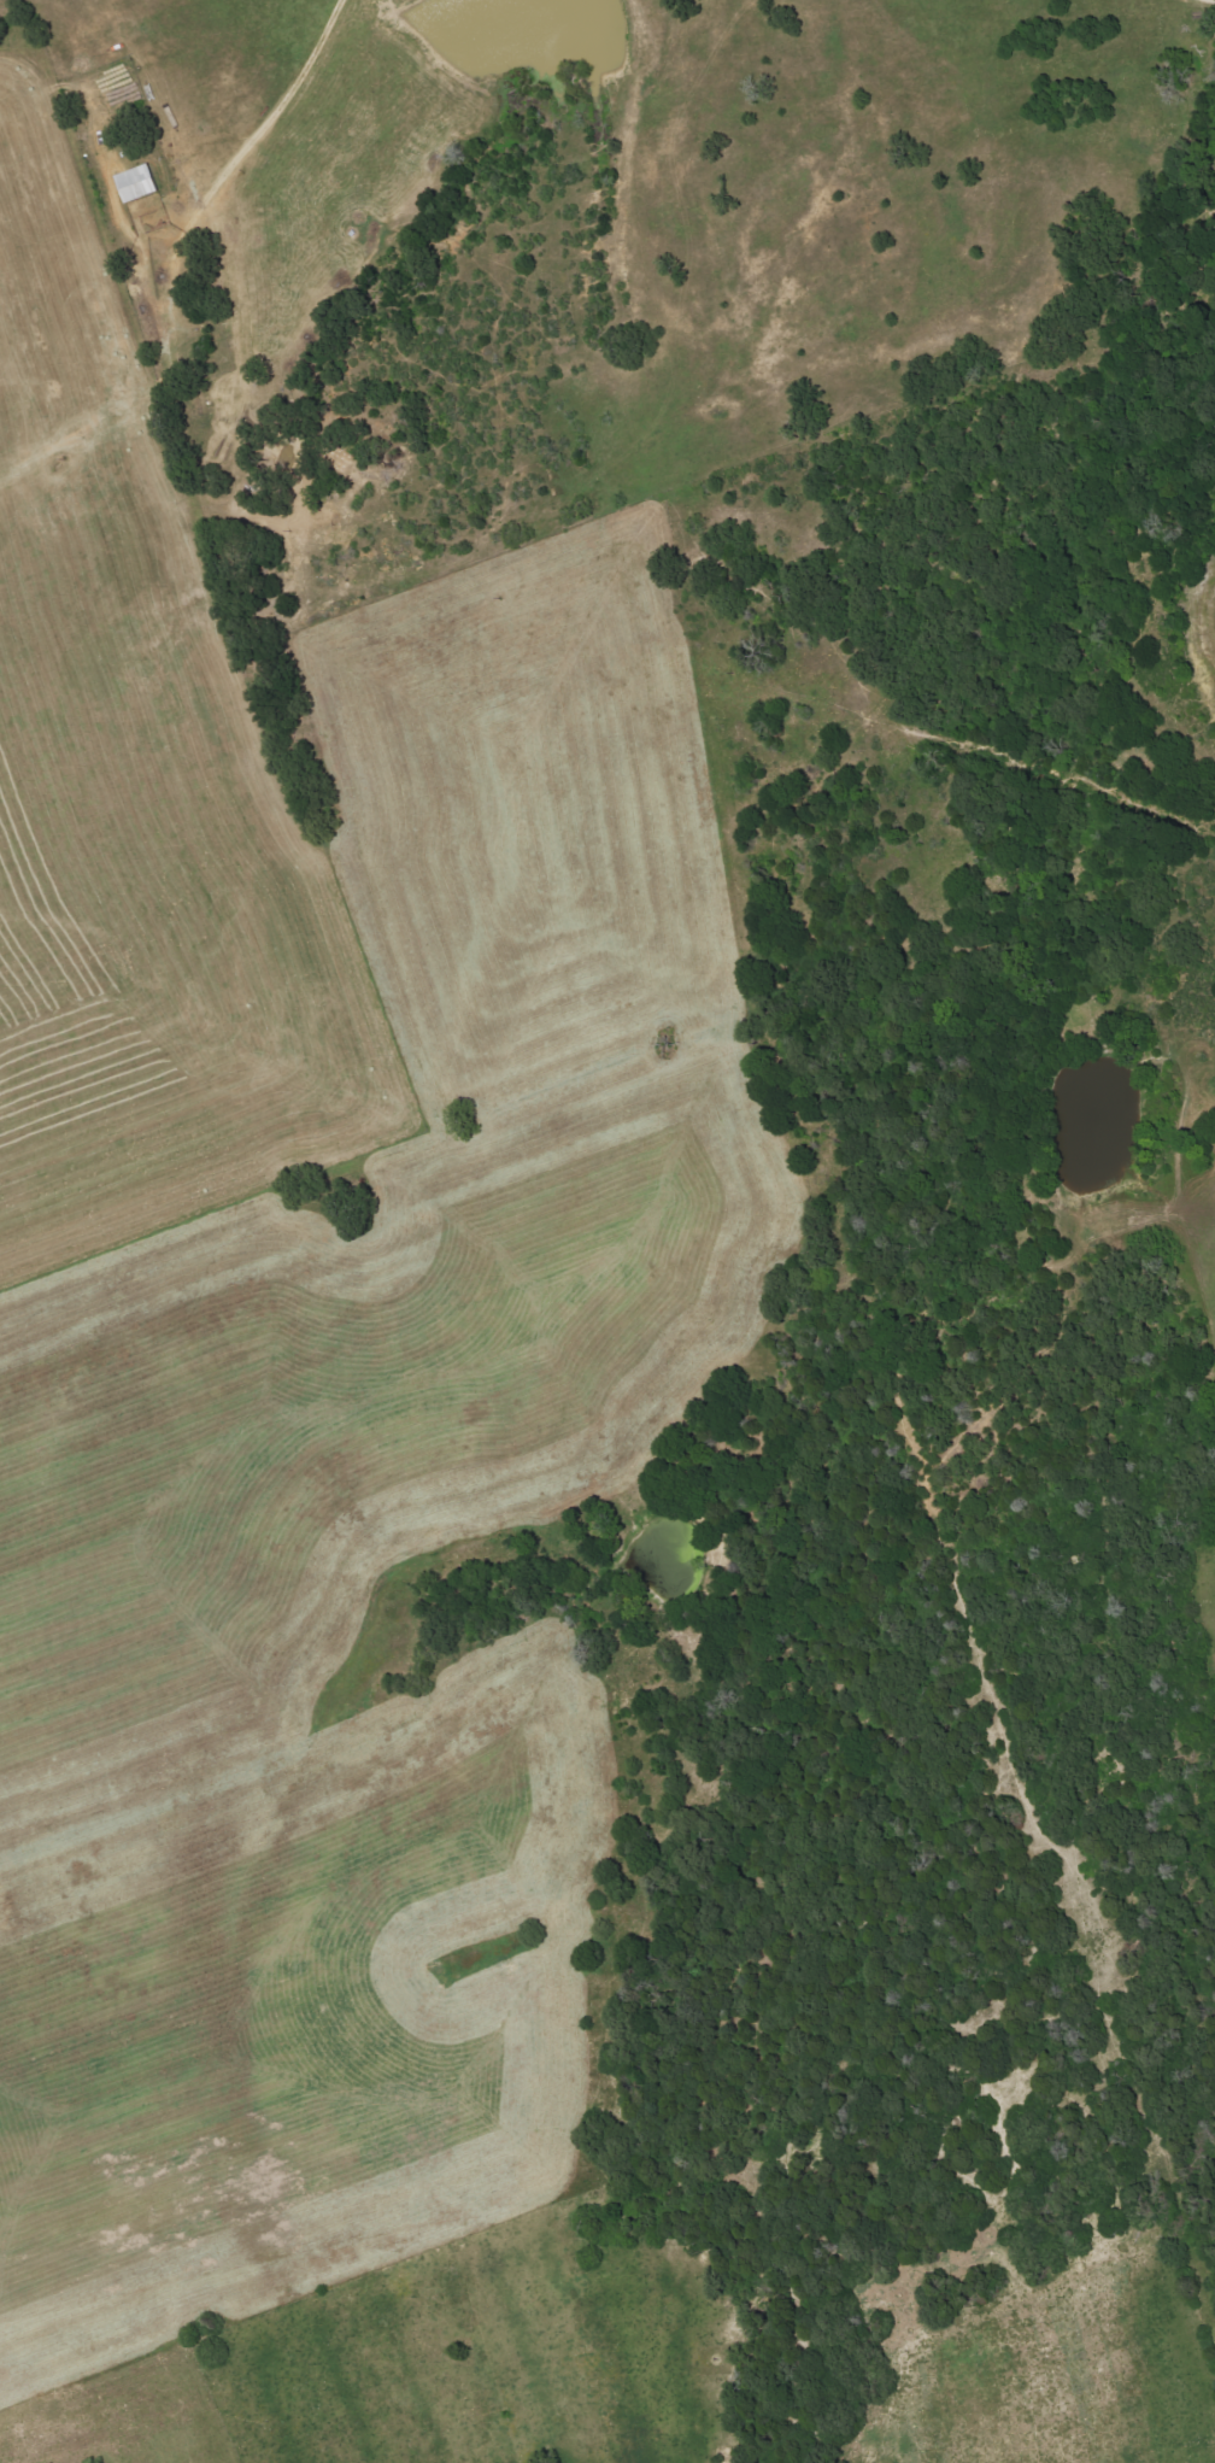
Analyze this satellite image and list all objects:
building: (137, 182)

